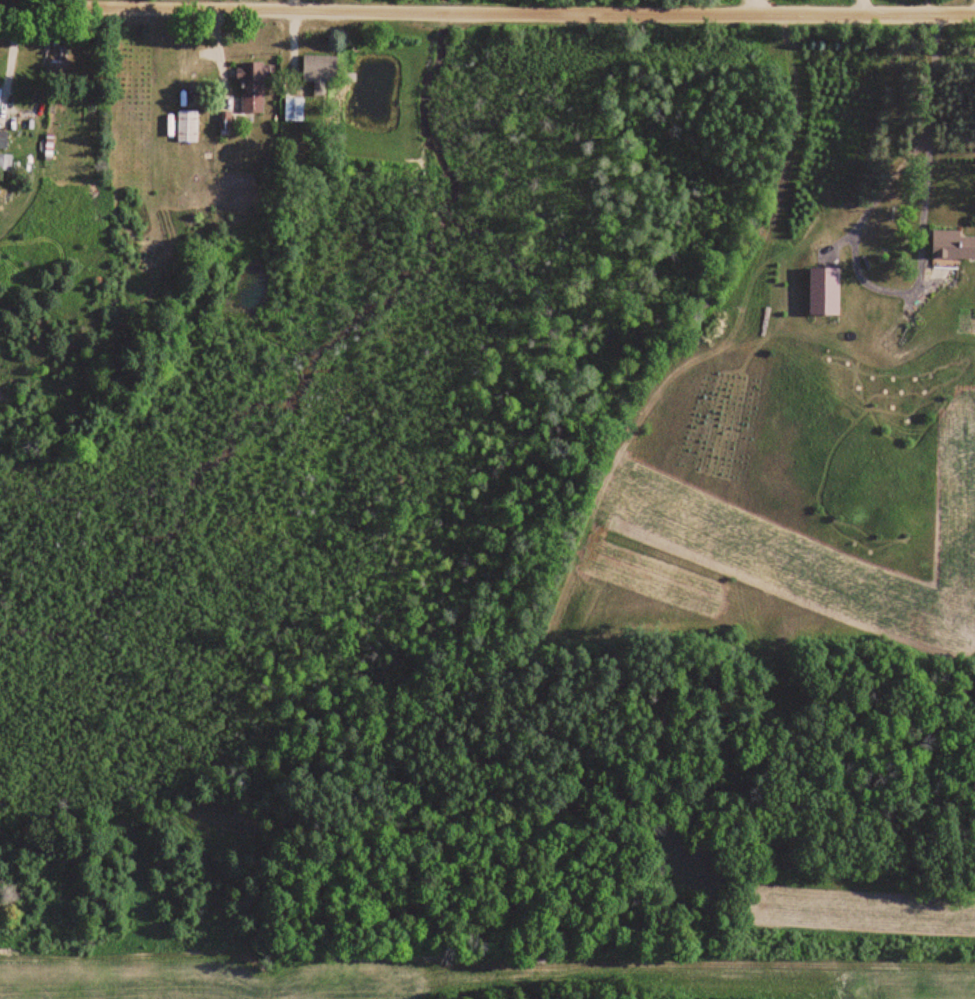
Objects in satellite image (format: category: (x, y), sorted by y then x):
road: (754, 7)
road: (487, 12)
building: (316, 70)
building: (250, 87)
building: (293, 108)
building: (186, 126)
building: (3, 139)
building: (3, 163)
building: (945, 244)
road: (919, 265)
building: (823, 290)

